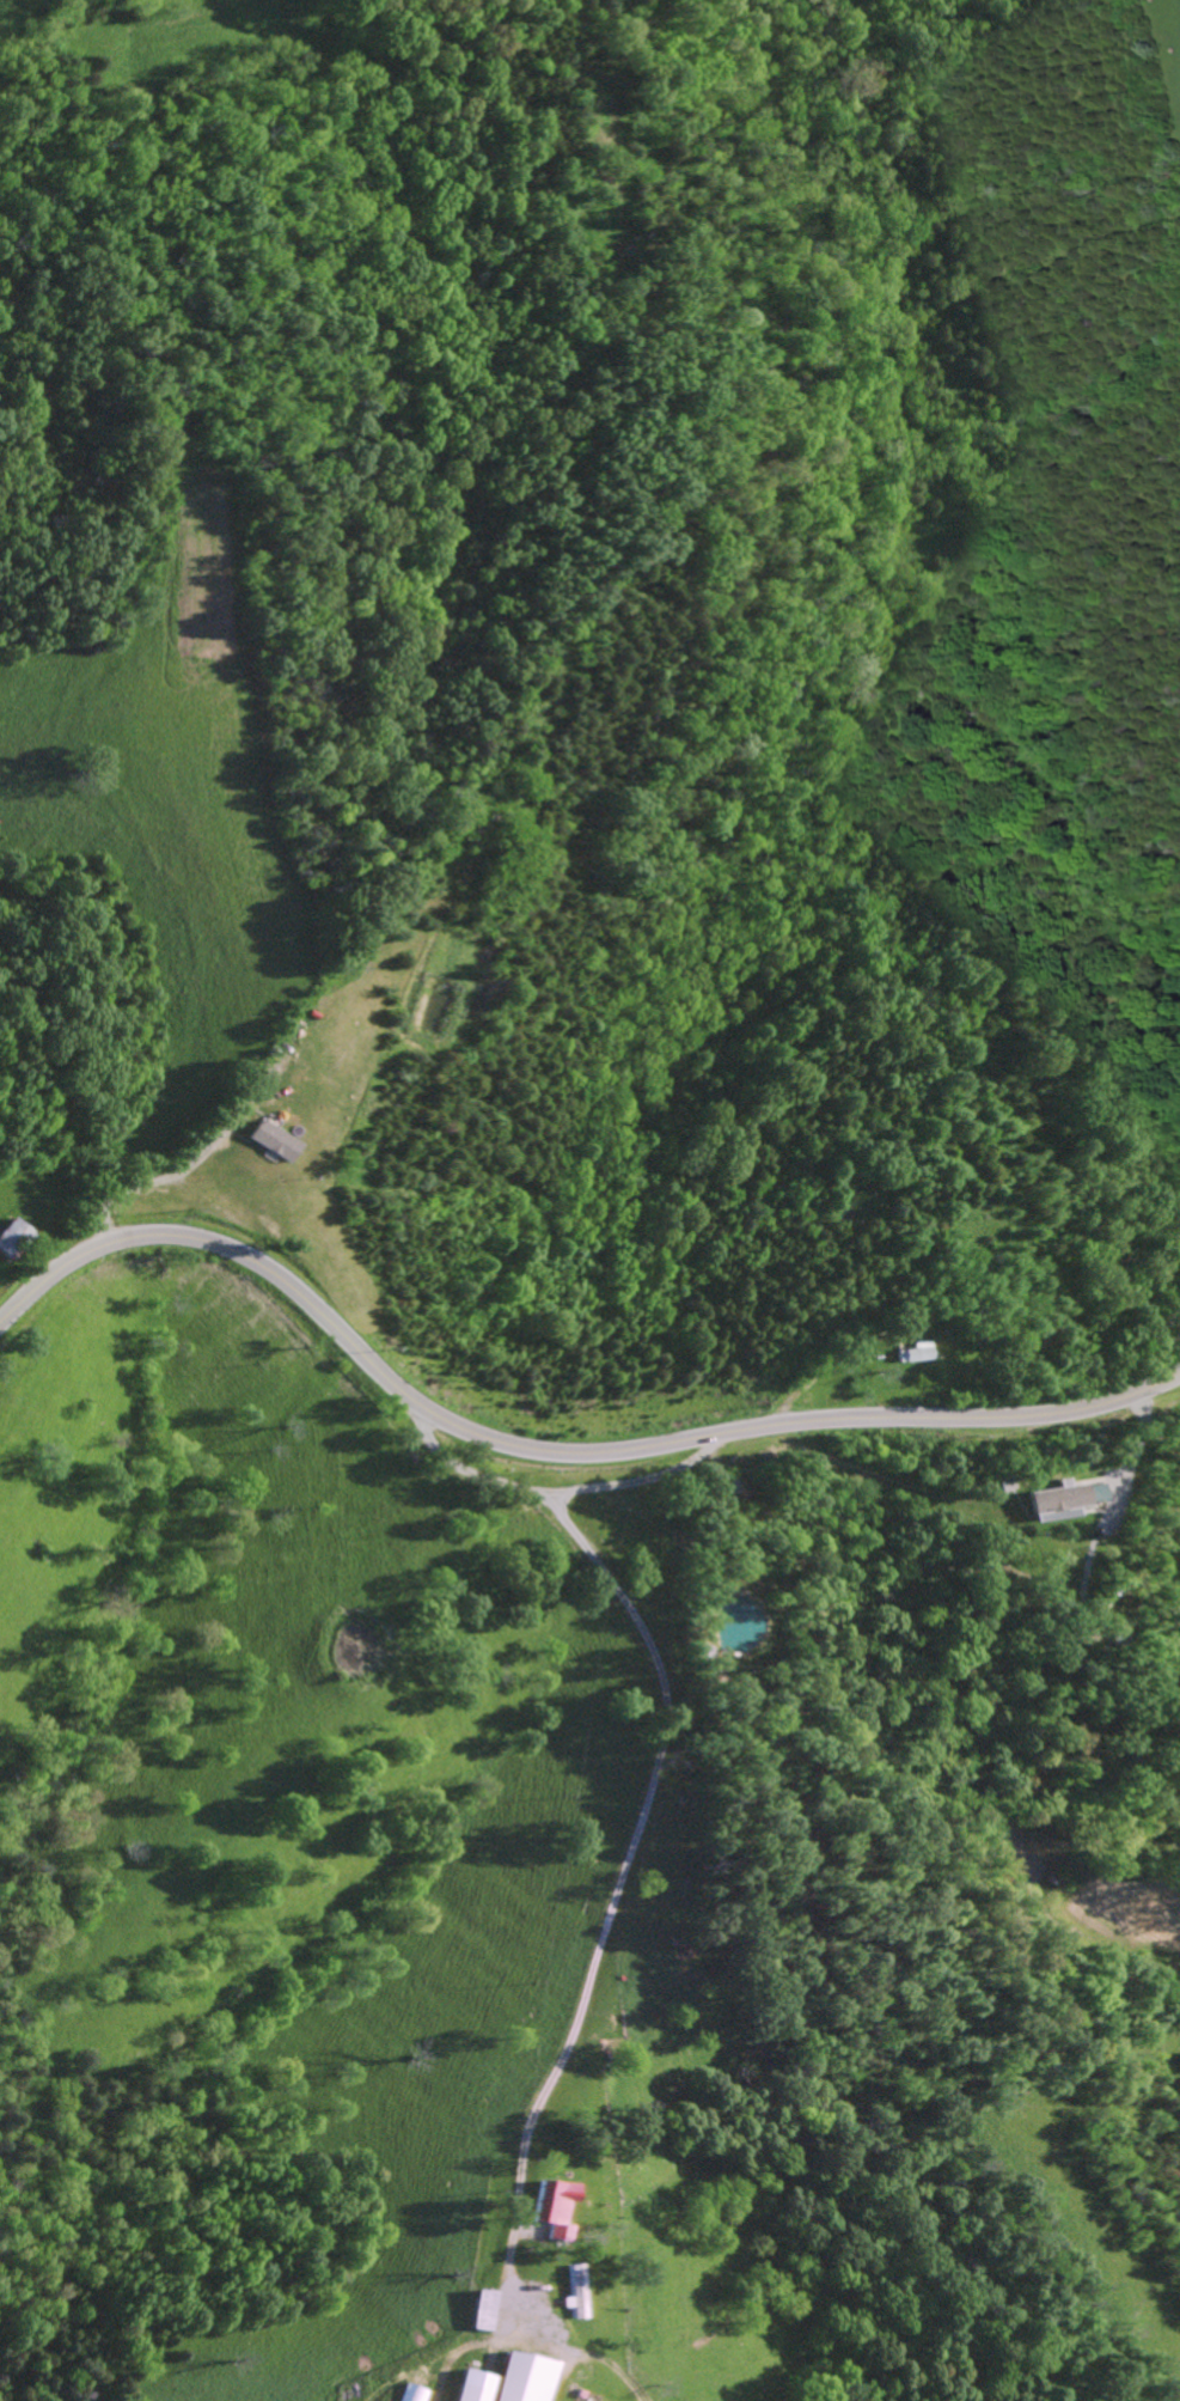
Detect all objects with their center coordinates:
building: (274, 1141)
building: (13, 1237)
road: (549, 1452)
building: (1046, 1503)
road: (555, 1506)
road: (1099, 1516)
road: (613, 1938)
building: (549, 2206)
building: (567, 2291)
building: (489, 2309)
building: (527, 2377)
building: (481, 2385)

